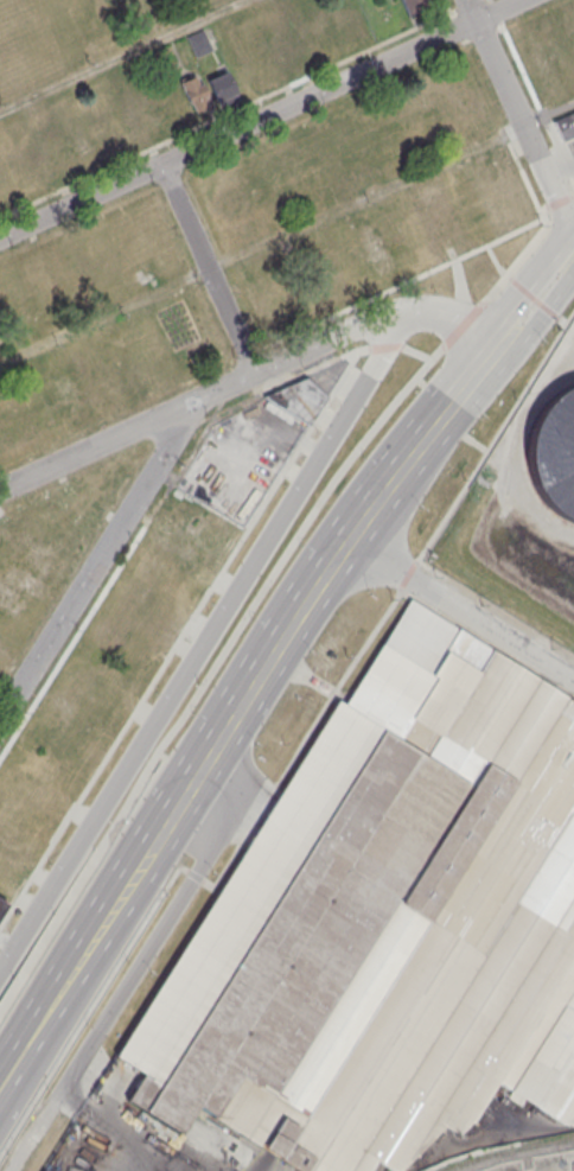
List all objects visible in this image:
building: (410, 2)
building: (353, 23)
building: (199, 43)
road: (117, 55)
building: (263, 68)
building: (223, 88)
building: (194, 91)
building: (172, 101)
road: (547, 110)
road: (260, 119)
road: (519, 121)
building: (566, 127)
road: (261, 248)
road: (206, 268)
road: (245, 376)
building: (298, 399)
building: (554, 452)
storage tank: (554, 452)
road: (371, 505)
building: (4, 535)
road: (98, 556)
building: (42, 564)
road: (459, 609)
road: (203, 645)
building: (2, 648)
road: (170, 812)
building: (2, 904)
building: (384, 922)
road: (162, 930)
road: (74, 967)
road: (111, 1127)
railway: (502, 1150)

